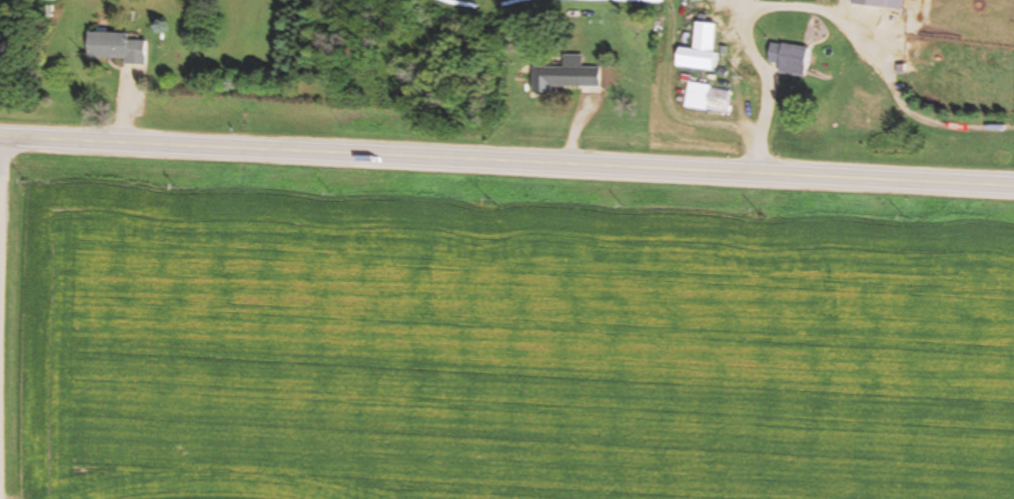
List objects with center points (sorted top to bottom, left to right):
road: (733, 3)
road: (819, 8)
building: (882, 16)
building: (116, 49)
building: (705, 60)
building: (569, 77)
road: (665, 89)
building: (712, 98)
road: (507, 162)
road: (1, 166)

